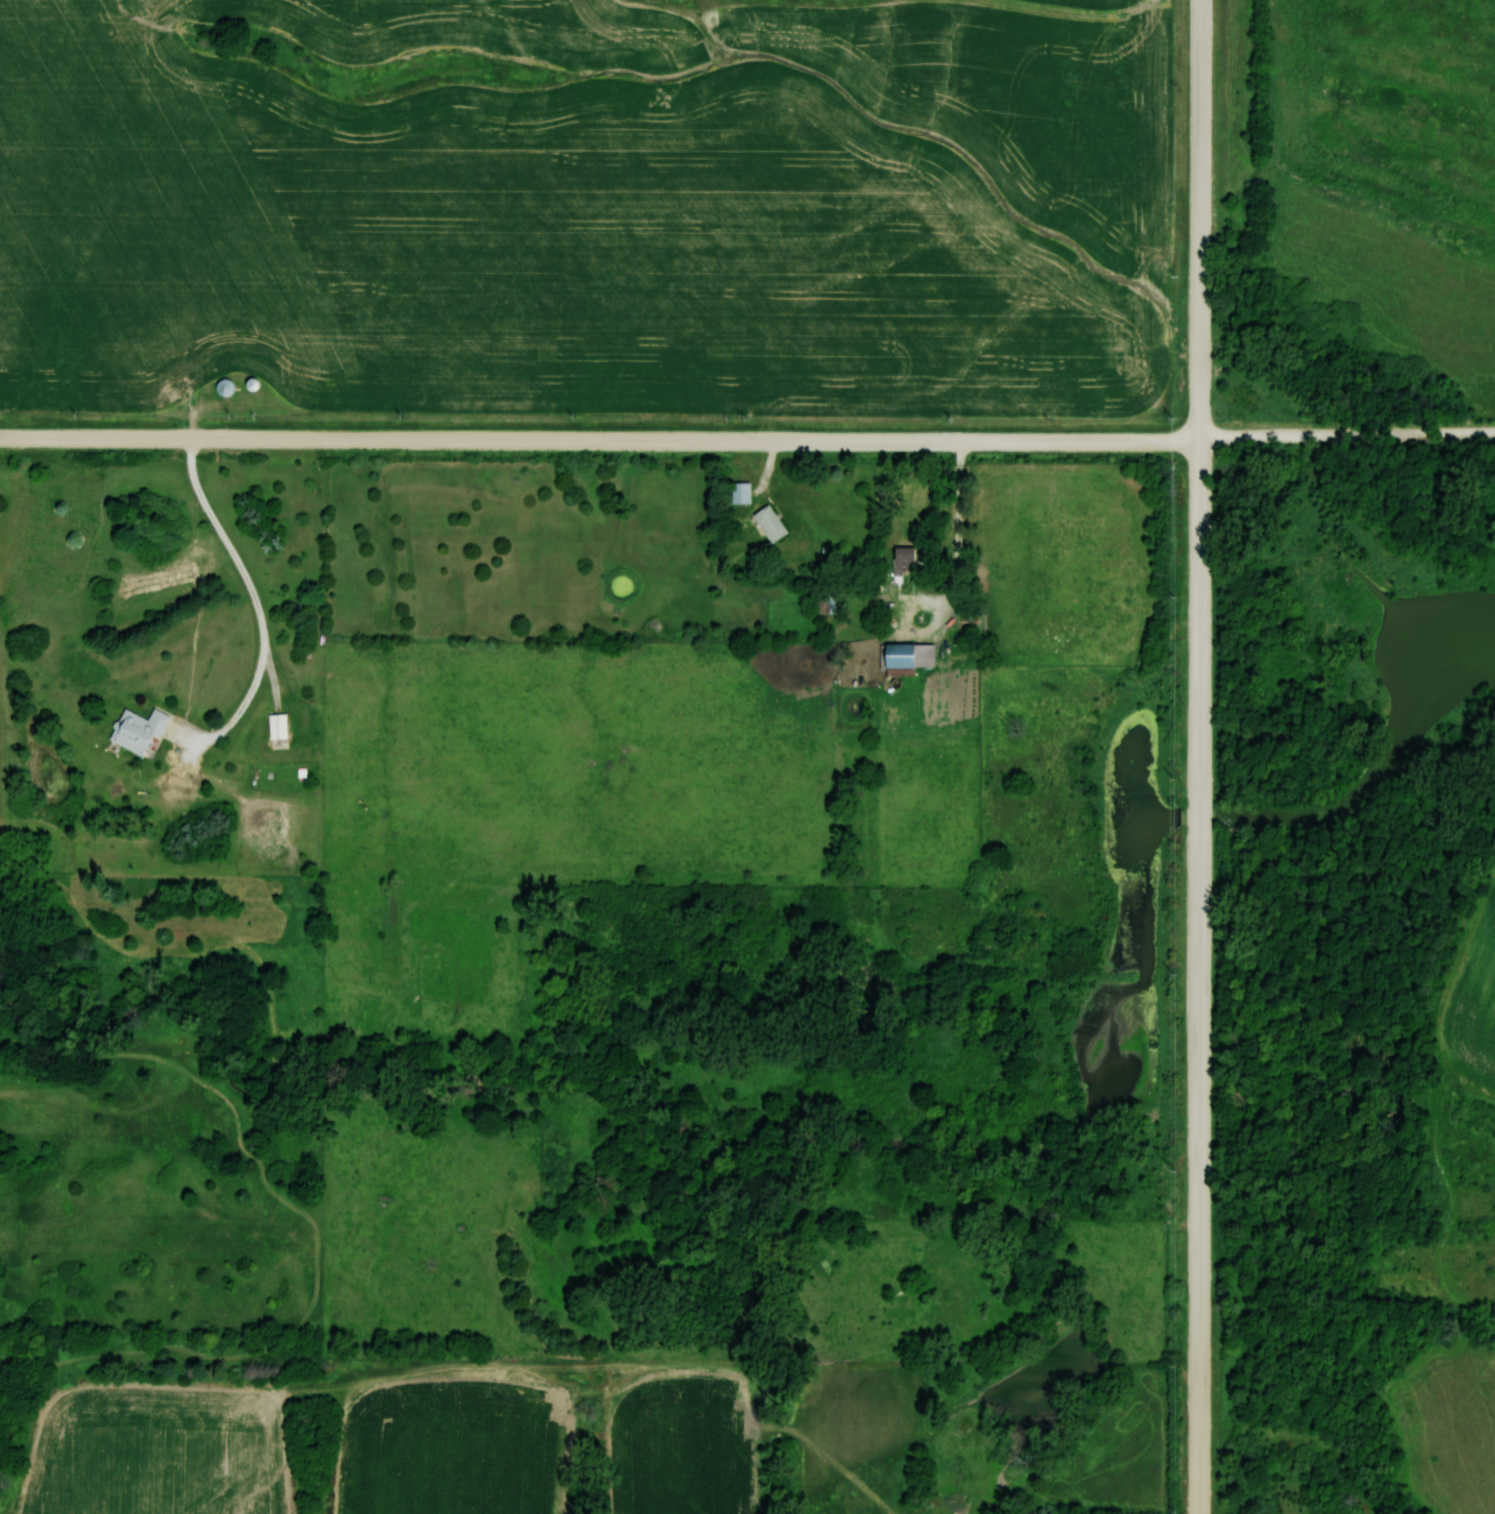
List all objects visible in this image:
building: (221, 387)
road: (1346, 437)
road: (599, 440)
building: (739, 492)
road: (959, 505)
building: (767, 522)
building: (901, 560)
road: (260, 612)
building: (895, 654)
building: (274, 726)
building: (136, 730)
road: (1199, 756)

